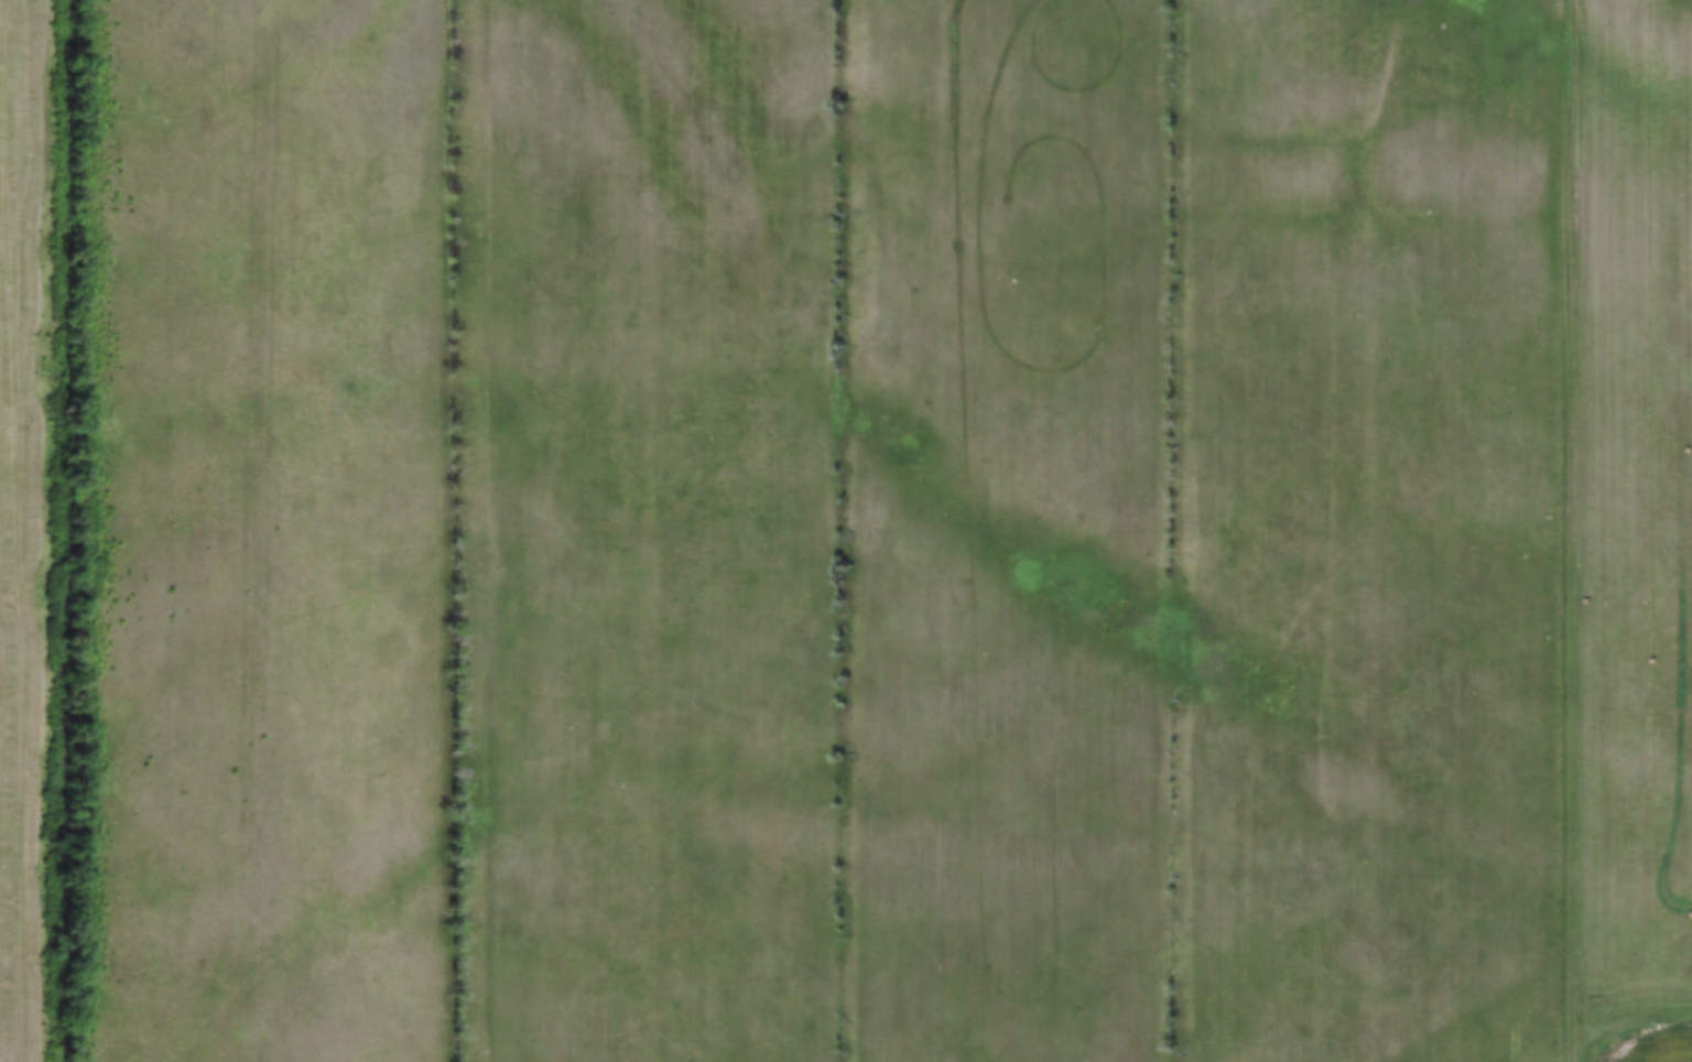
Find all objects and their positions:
road: (1562, 530)

